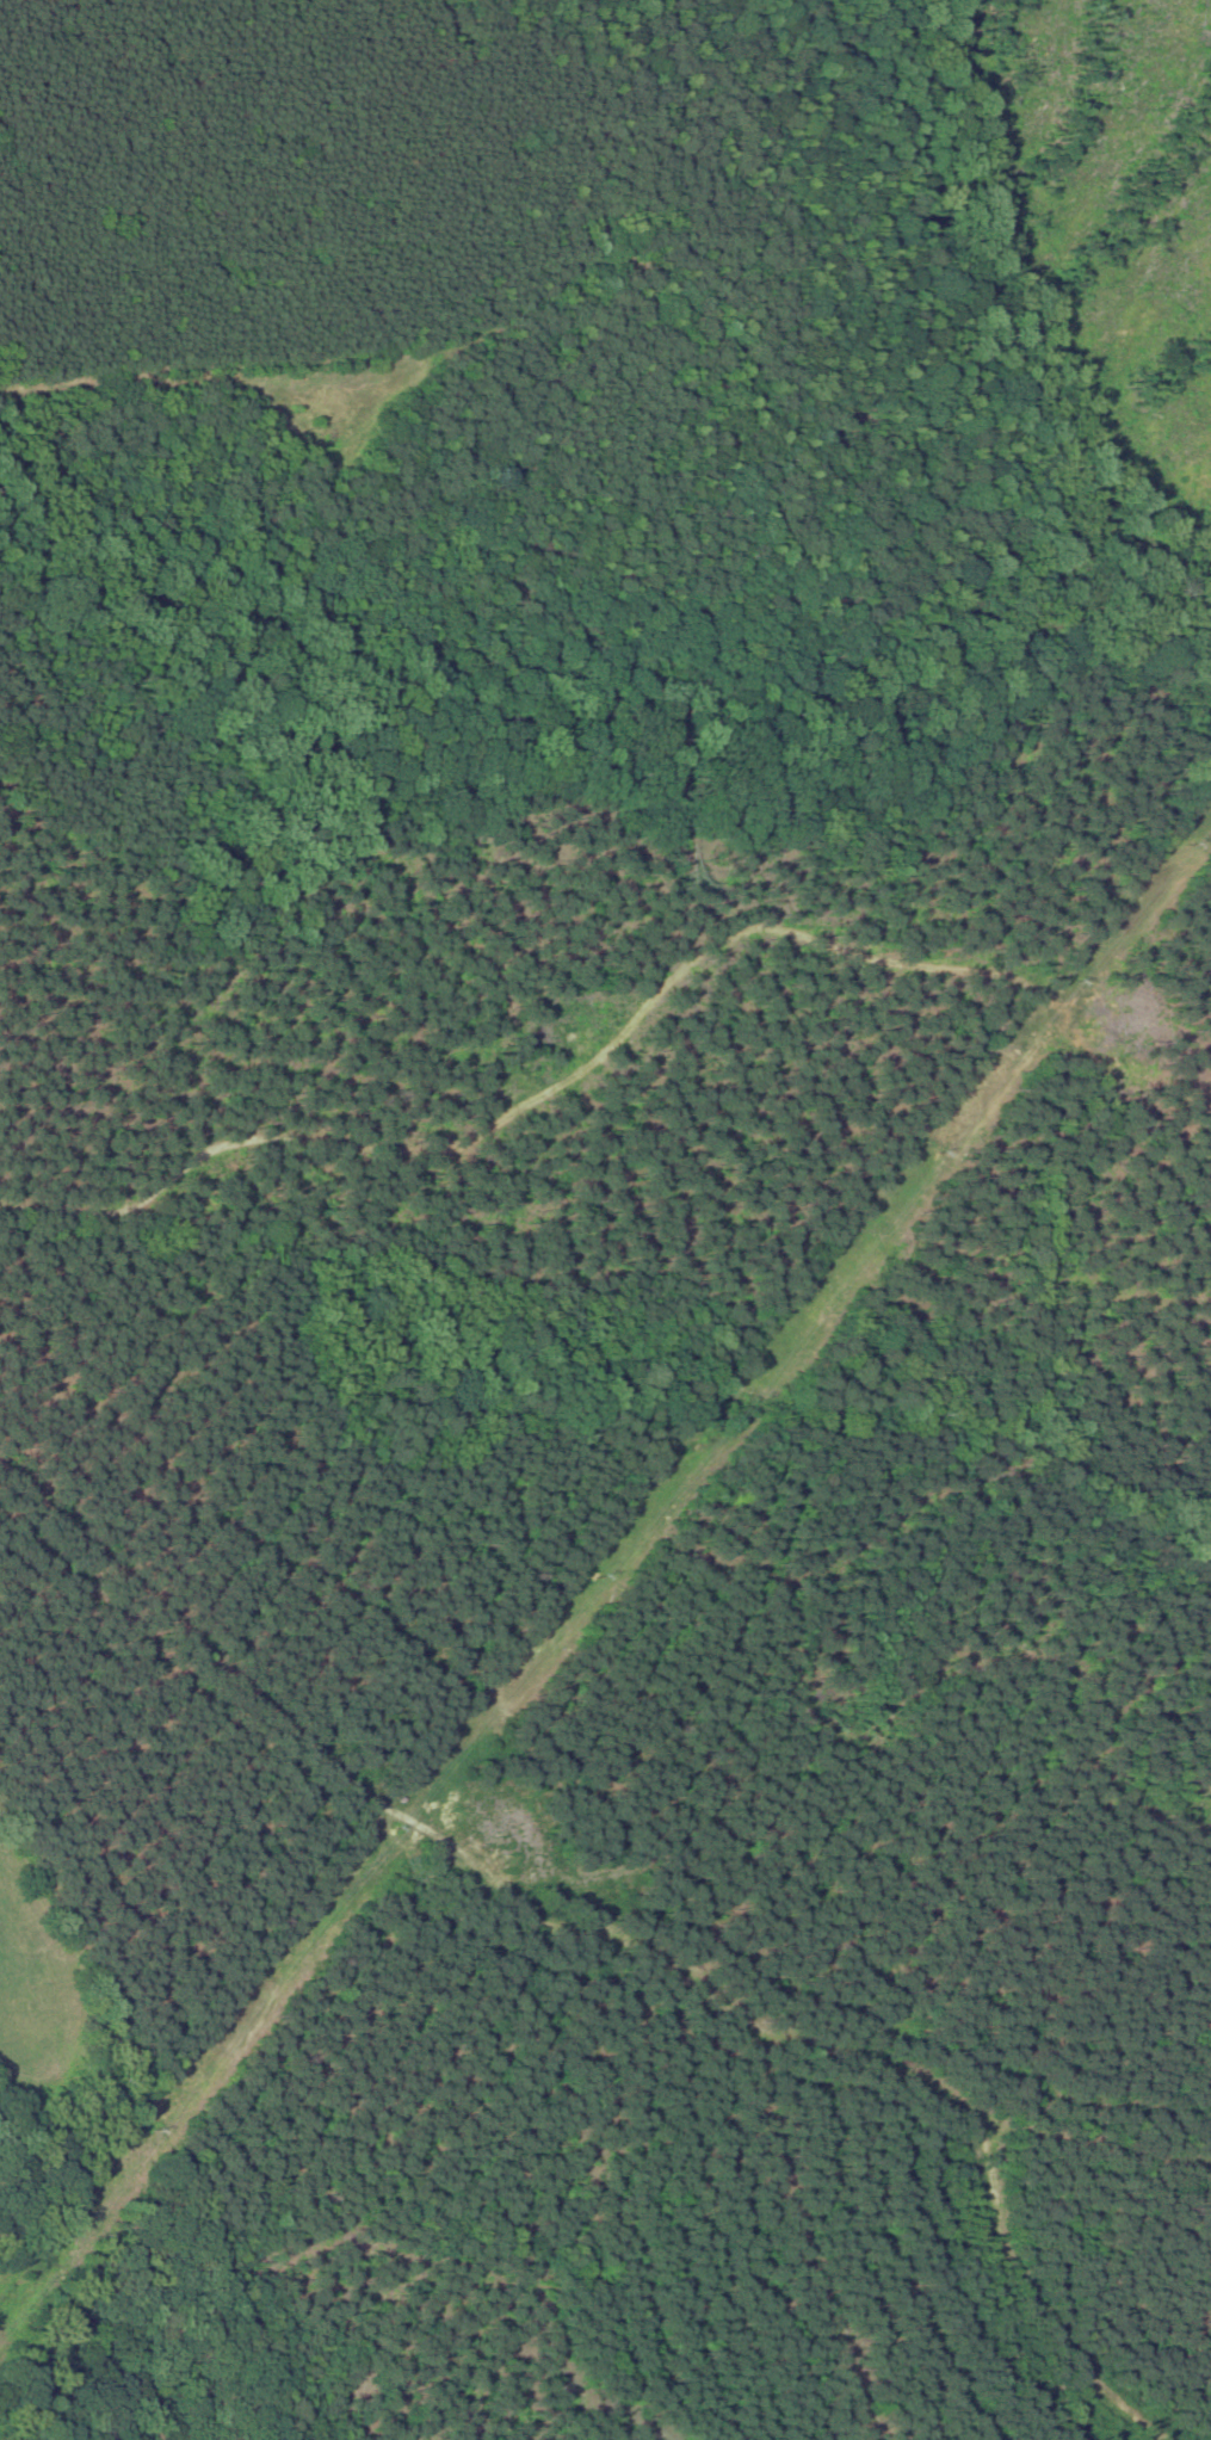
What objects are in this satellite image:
river: (1015, 322)

